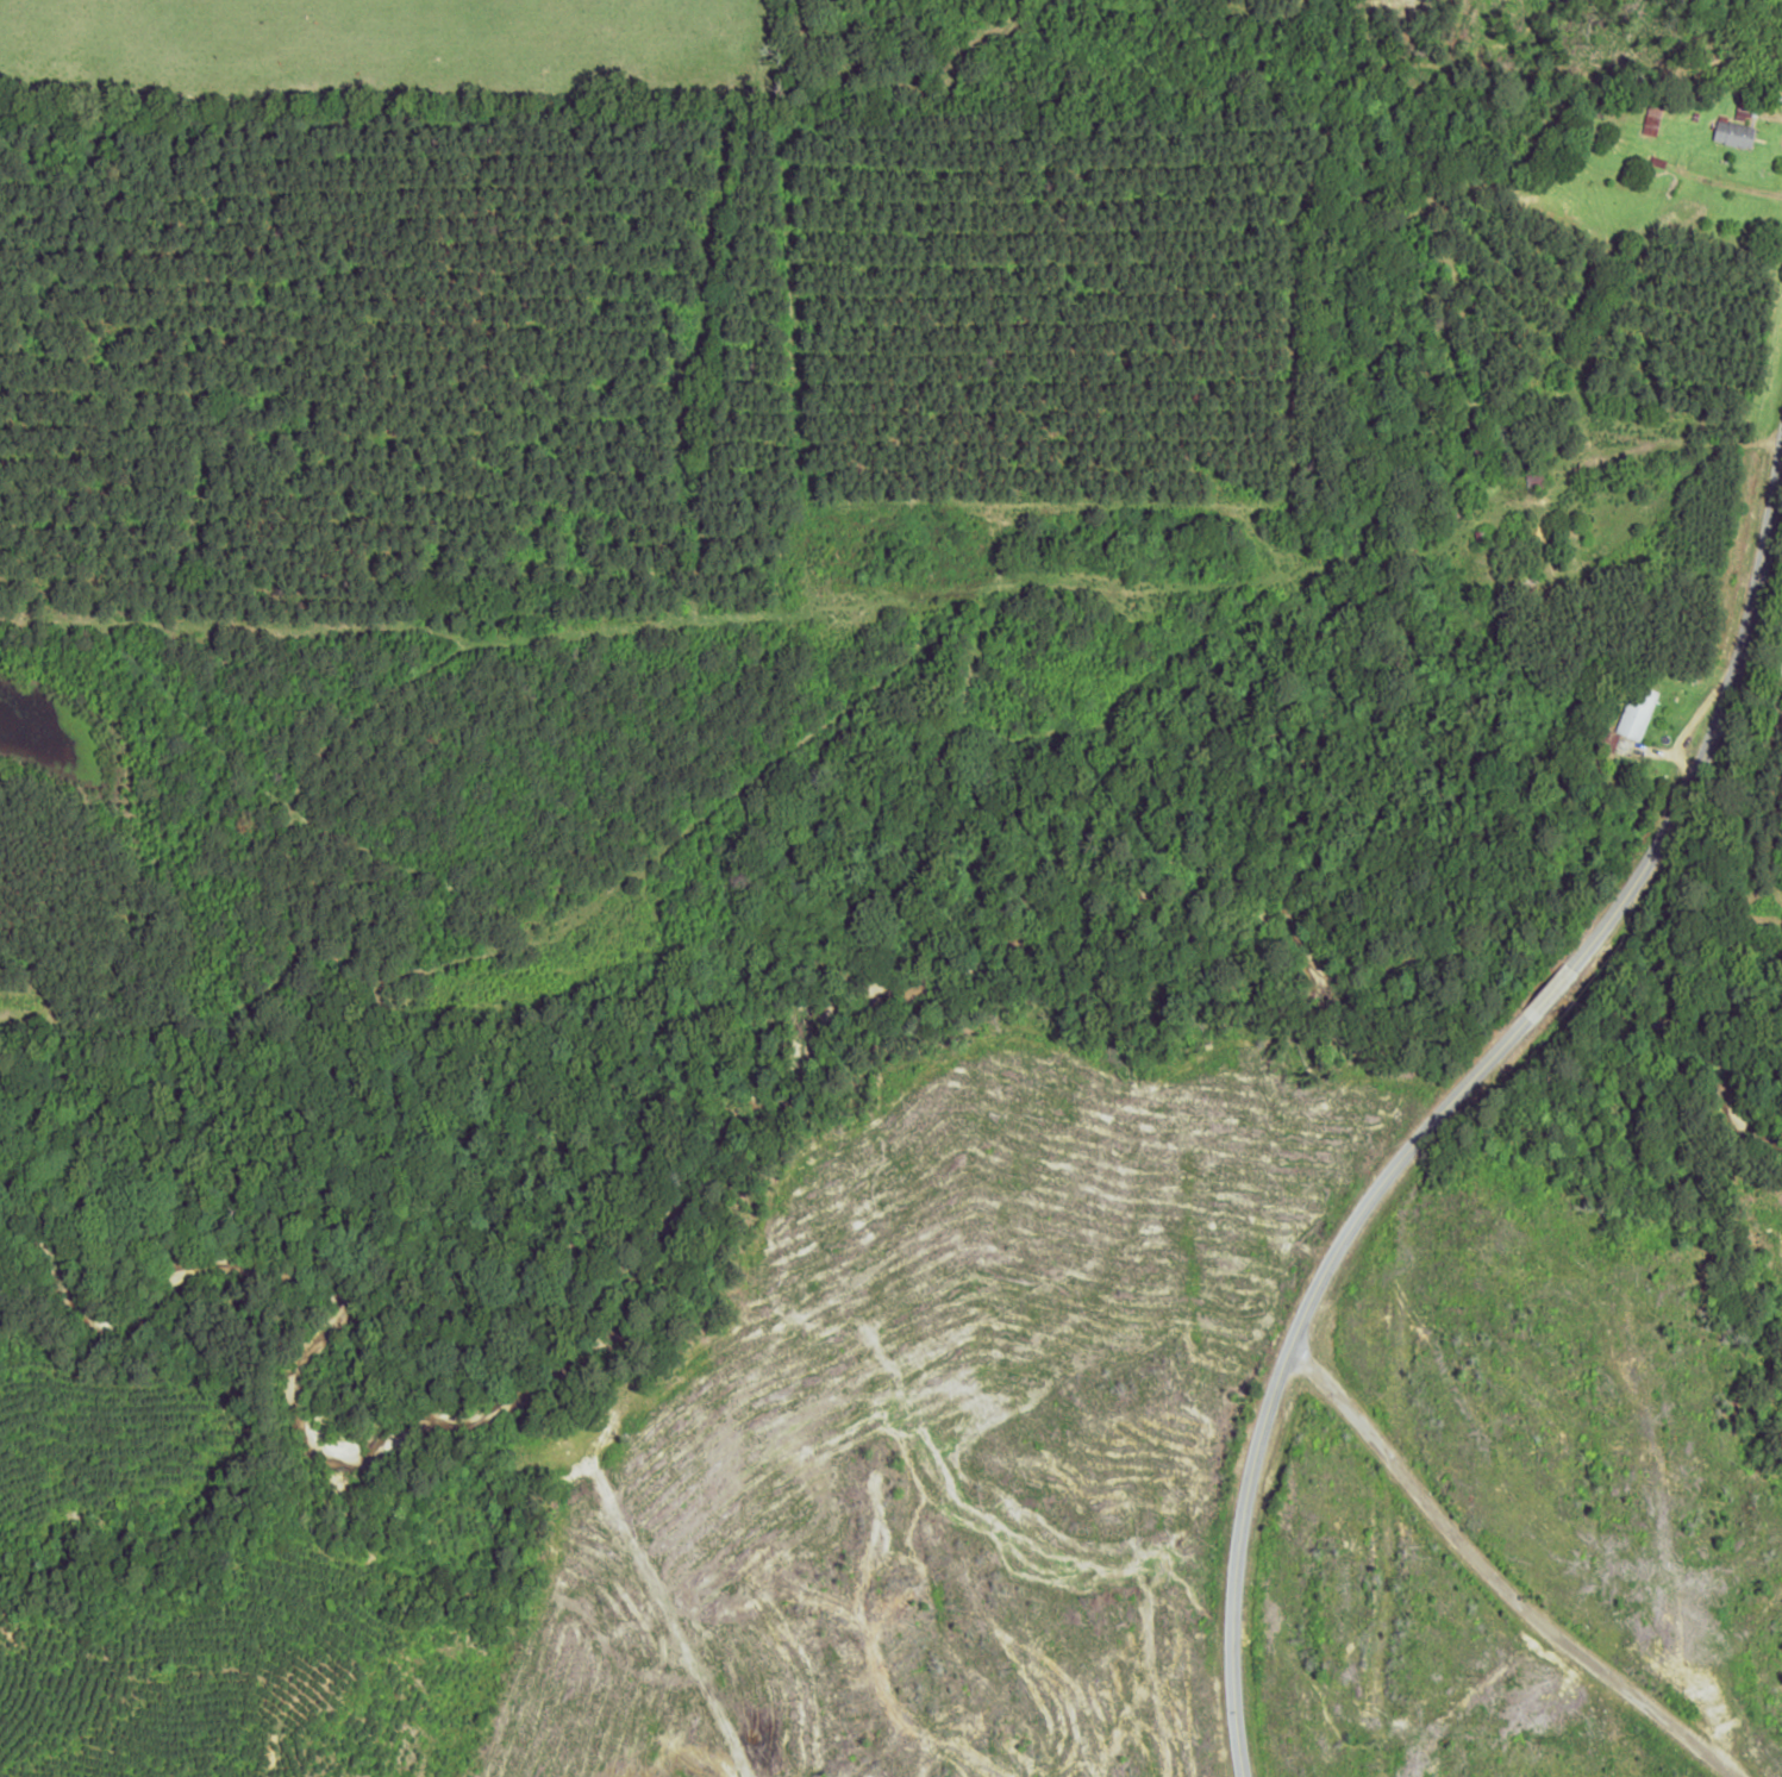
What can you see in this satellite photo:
building: (1651, 119)
building: (1733, 132)
building: (1637, 711)
road: (1503, 1105)
road: (1319, 1435)
road: (1503, 1622)

